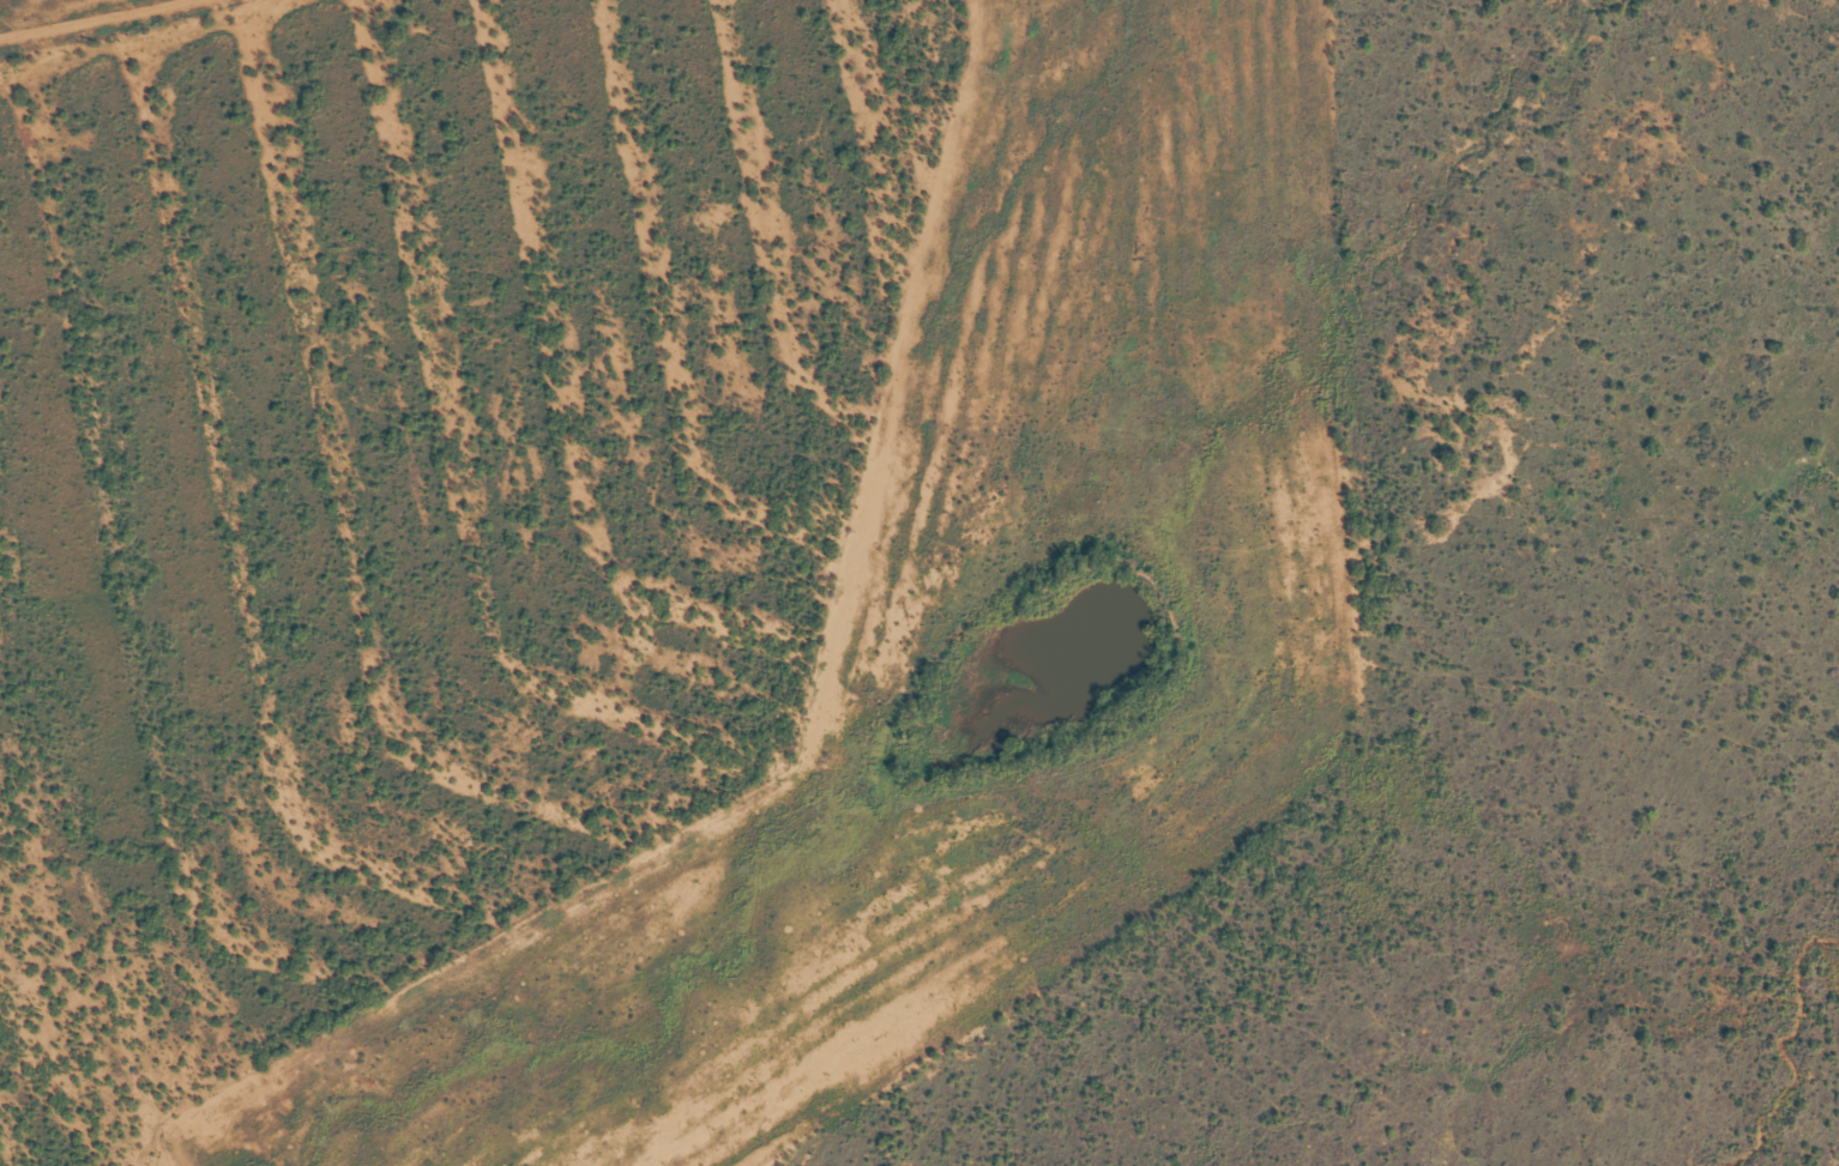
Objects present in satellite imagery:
road: (122, 30)

